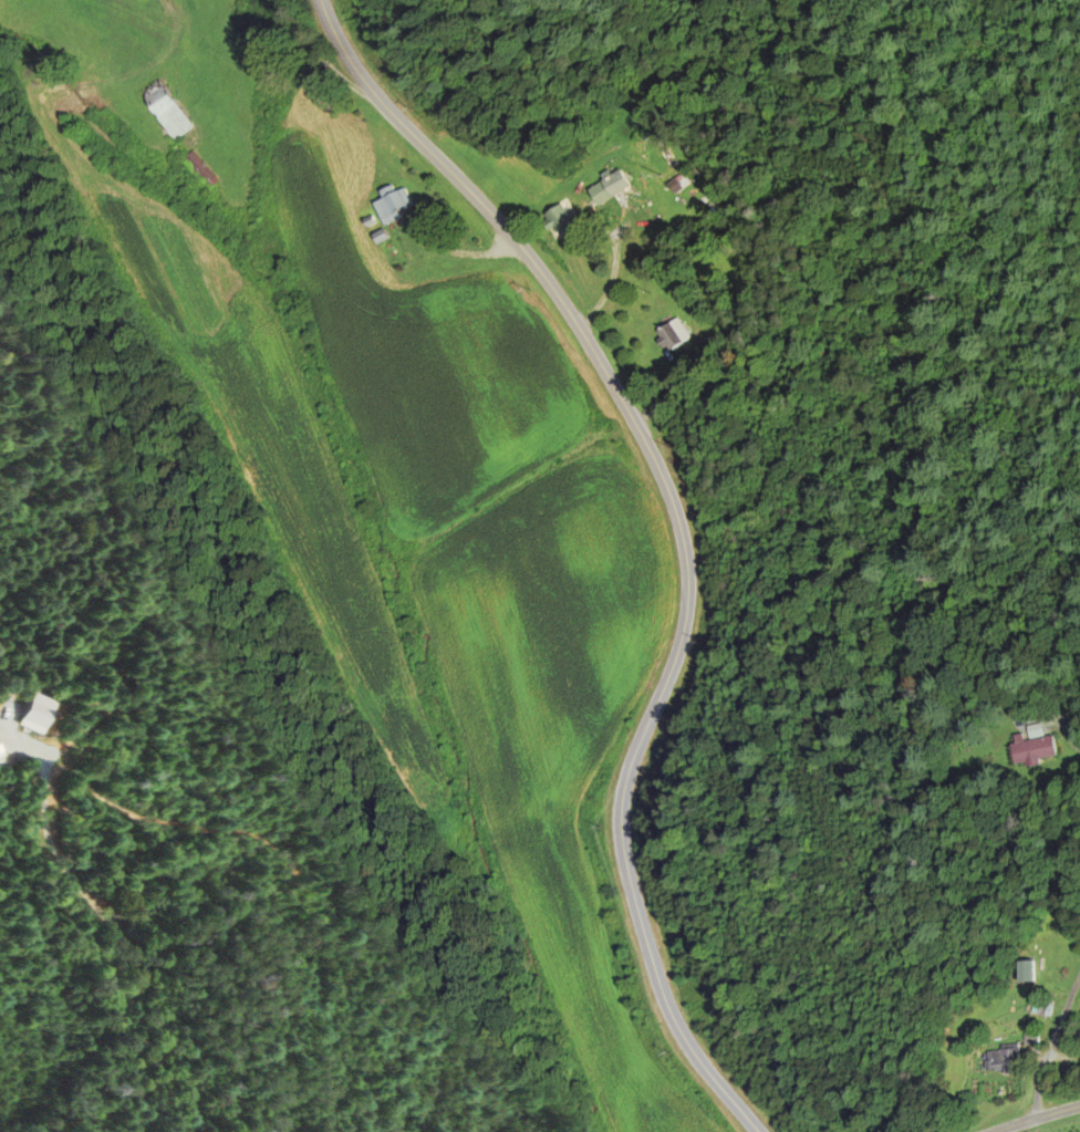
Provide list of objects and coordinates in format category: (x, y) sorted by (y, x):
building: (166, 111)
building: (199, 170)
building: (607, 188)
building: (392, 206)
building: (560, 221)
building: (672, 335)
road: (676, 532)
road: (1068, 739)
building: (1032, 750)
road: (116, 939)
road: (1048, 1047)
building: (999, 1063)
road: (1036, 1118)

